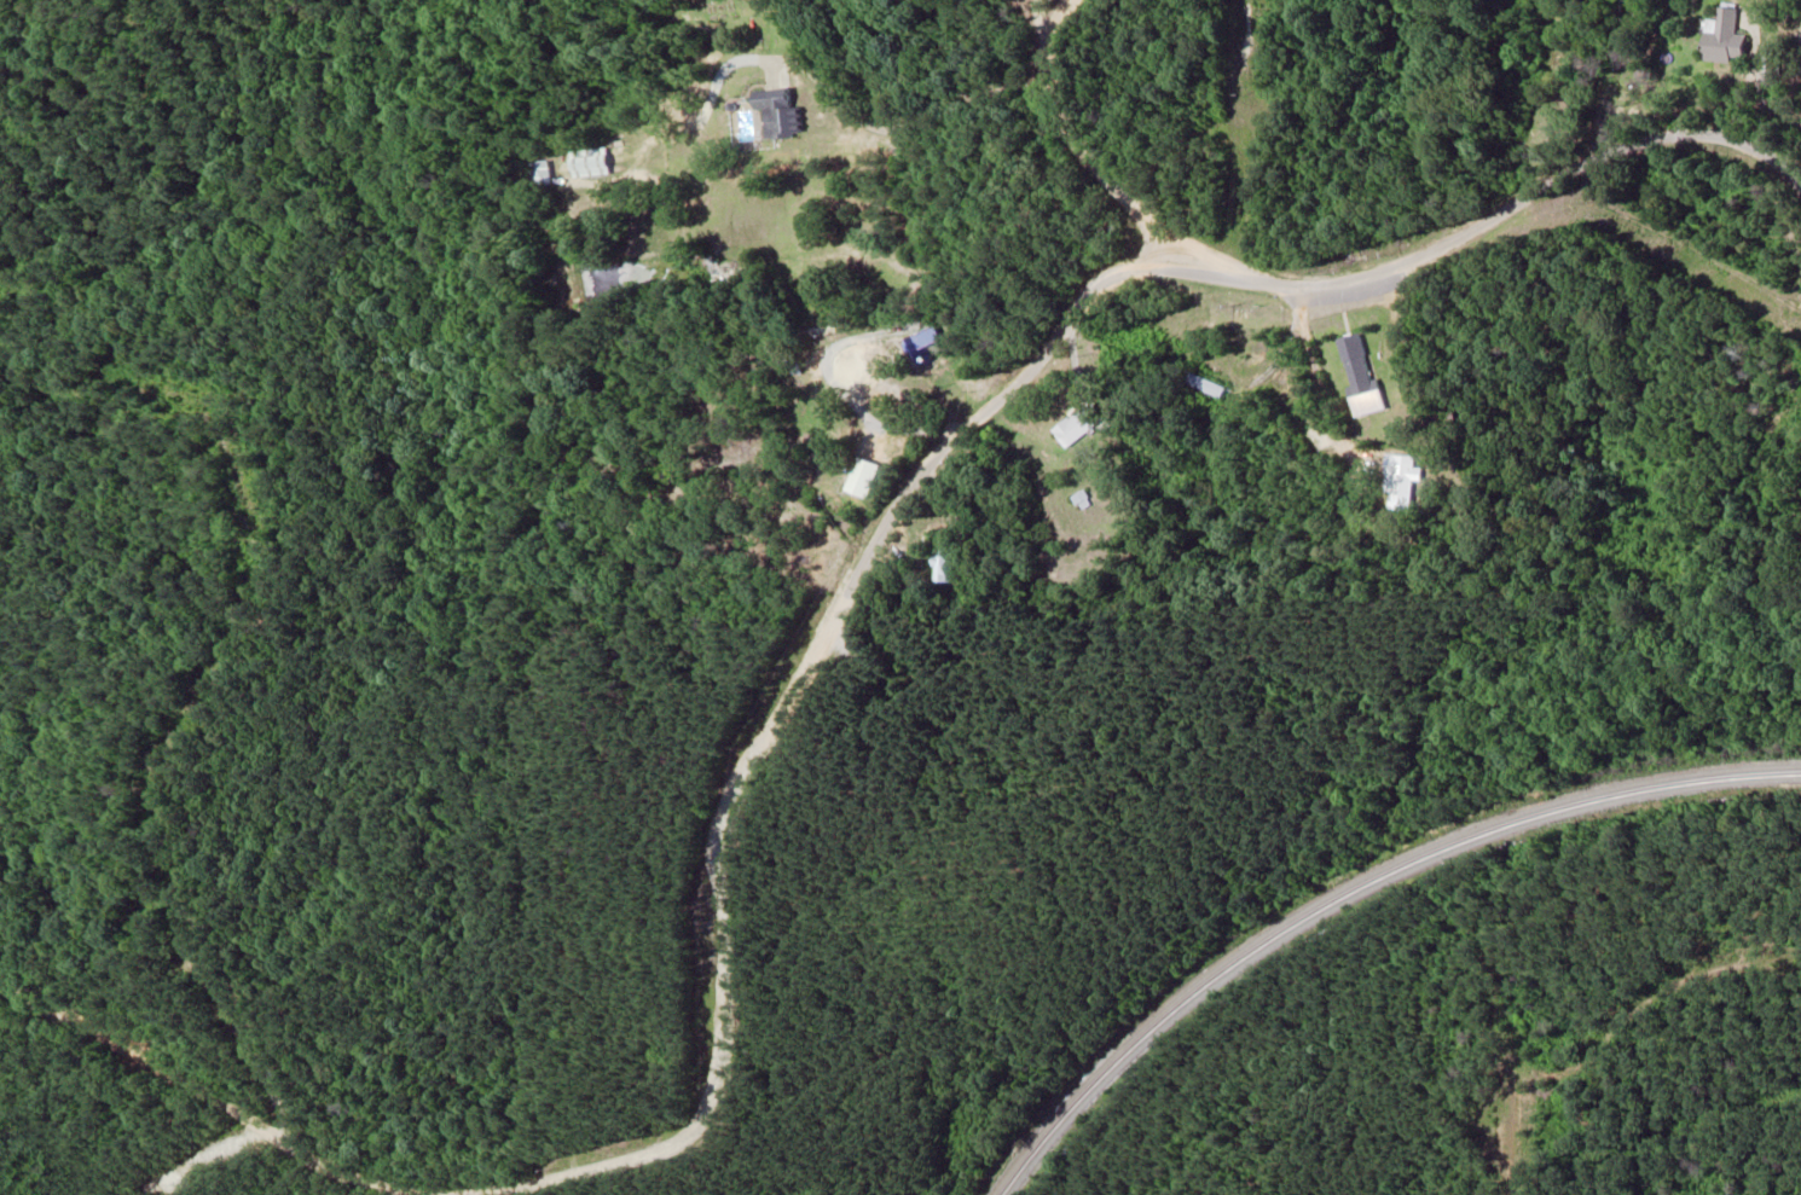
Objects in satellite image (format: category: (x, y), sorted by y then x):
building: (1724, 39)
building: (775, 116)
road: (1066, 137)
building: (591, 163)
building: (545, 173)
road: (1495, 207)
building: (920, 342)
building: (1360, 377)
building: (1198, 382)
building: (1079, 424)
building: (943, 564)
railway: (1351, 888)
road: (719, 999)

